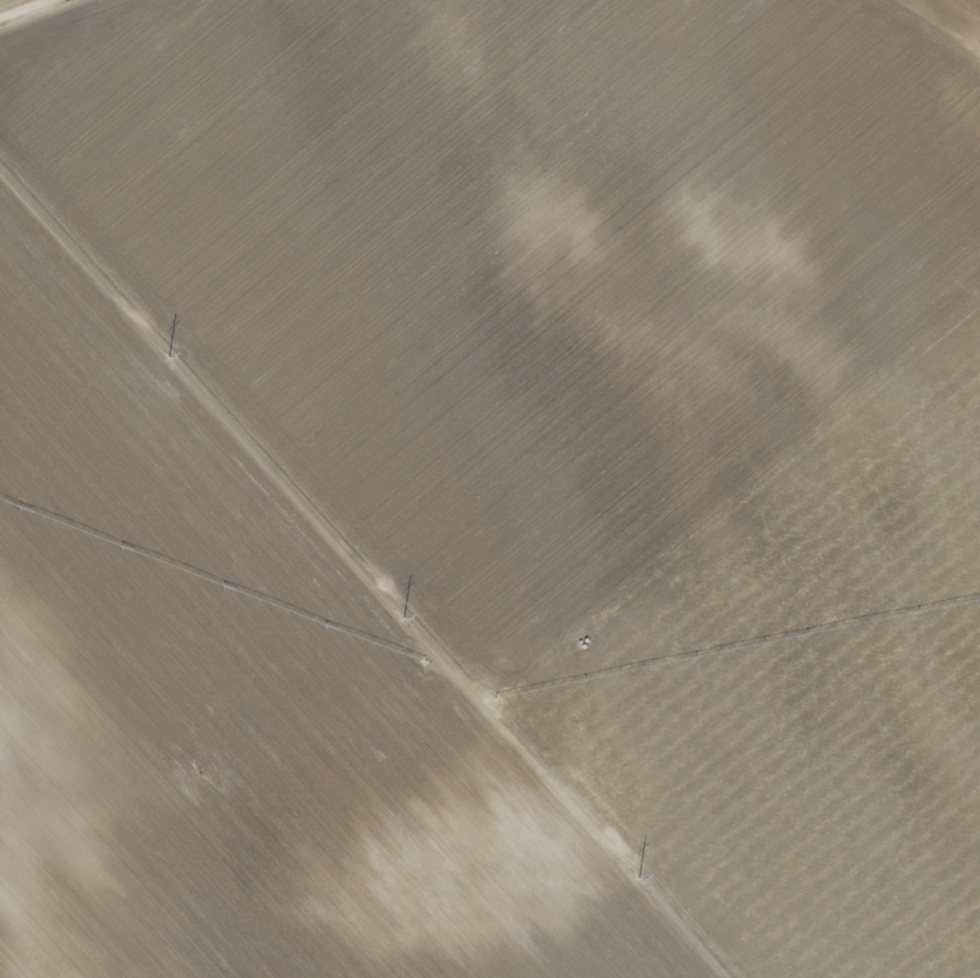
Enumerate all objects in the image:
power tower: (174, 365)
power tower: (409, 626)
power tower: (644, 885)

